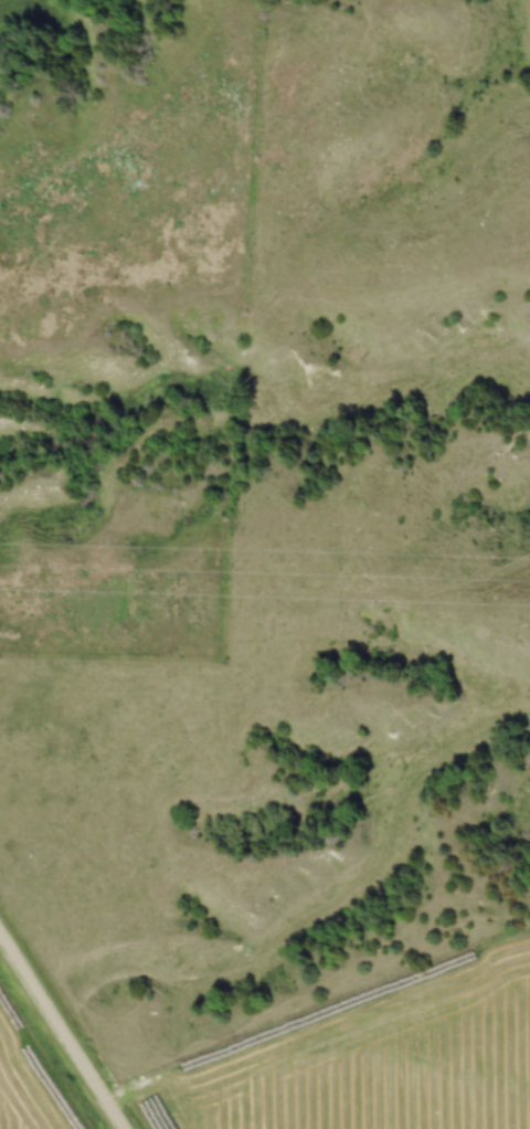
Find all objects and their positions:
road: (62, 1030)

